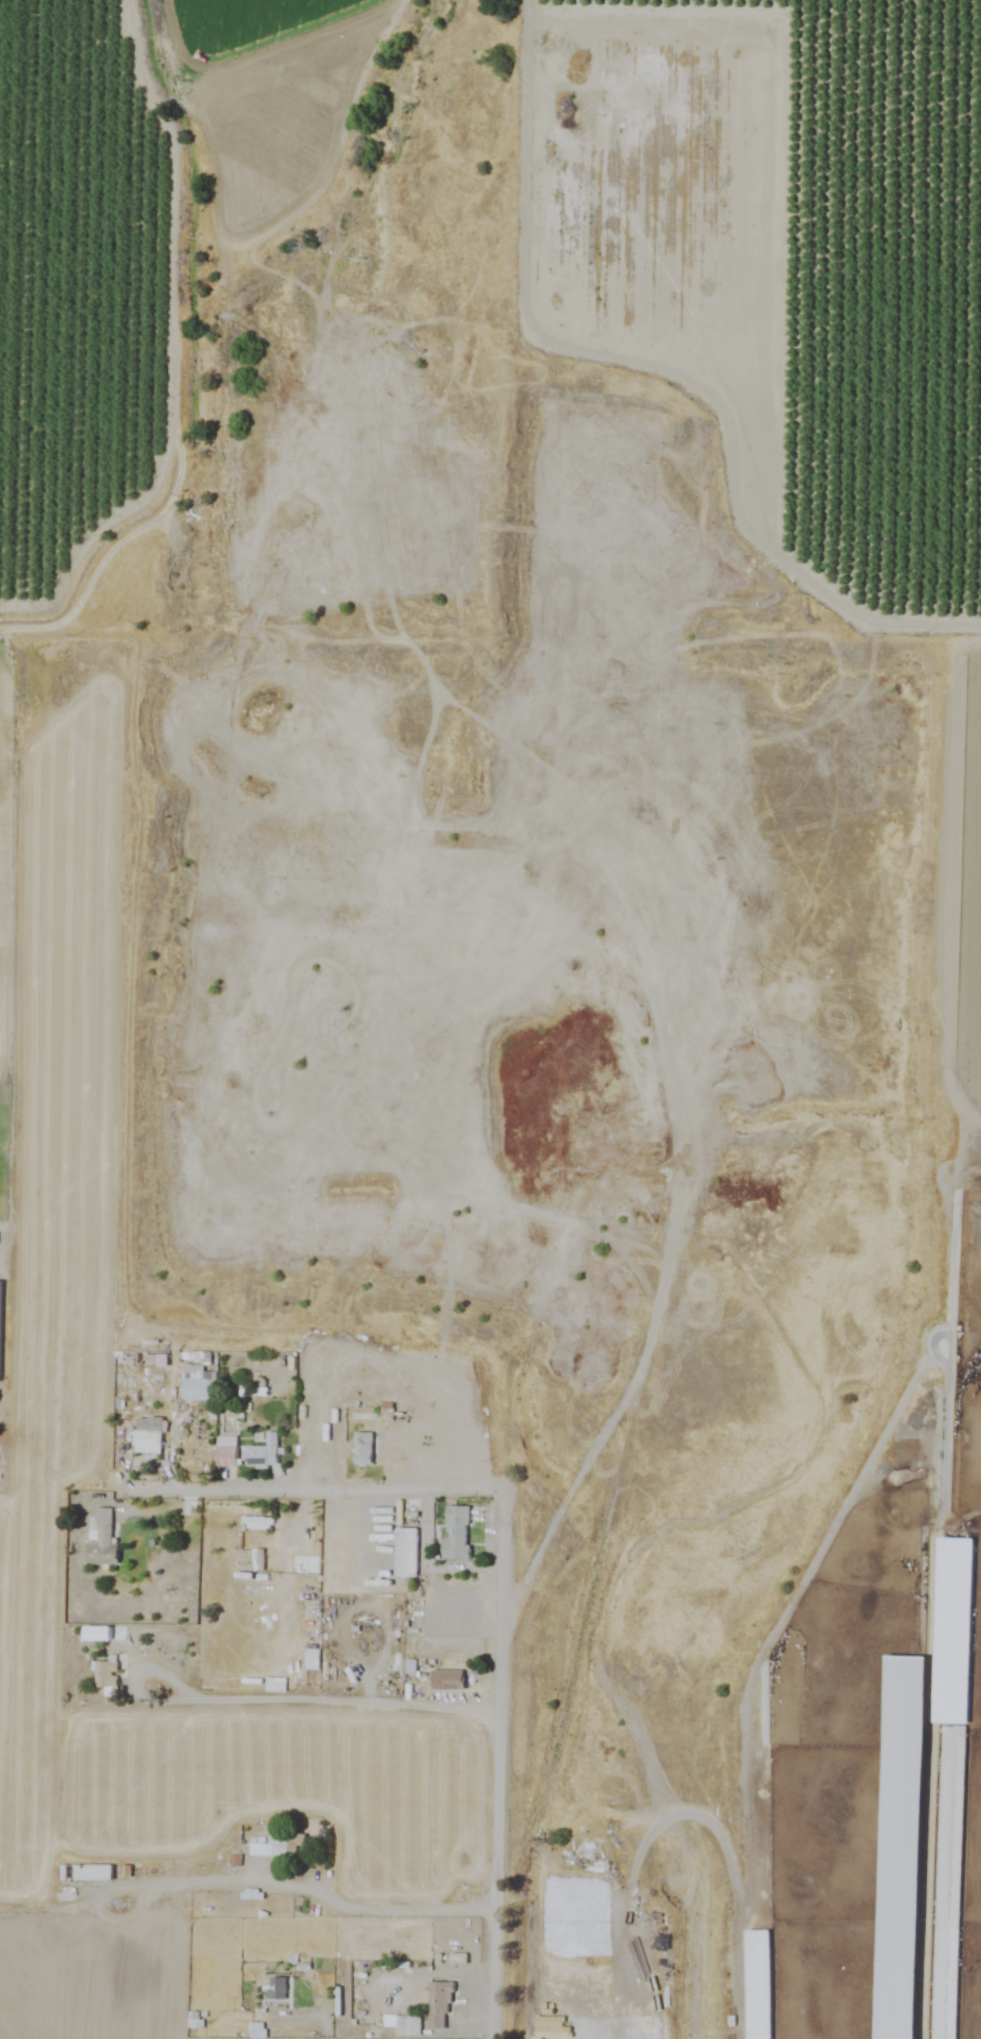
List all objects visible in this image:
crop: (127, 262)
crop: (797, 289)
building: (0, 1331)
building: (197, 1384)
building: (420, 1392)
building: (148, 1435)
building: (363, 1448)
building: (226, 1451)
building: (262, 1453)
road: (323, 1489)
building: (257, 1523)
building: (455, 1533)
building: (101, 1542)
building: (406, 1552)
building: (260, 1558)
building: (106, 1674)
building: (446, 1680)
road: (278, 1701)
crop: (213, 1758)
road: (509, 1766)
building: (278, 1846)
building: (896, 1848)
building: (85, 1873)
building: (947, 1882)
road: (324, 1895)
building: (755, 1985)
building: (275, 1989)
building: (436, 2009)
road: (335, 2016)
building: (408, 2027)

